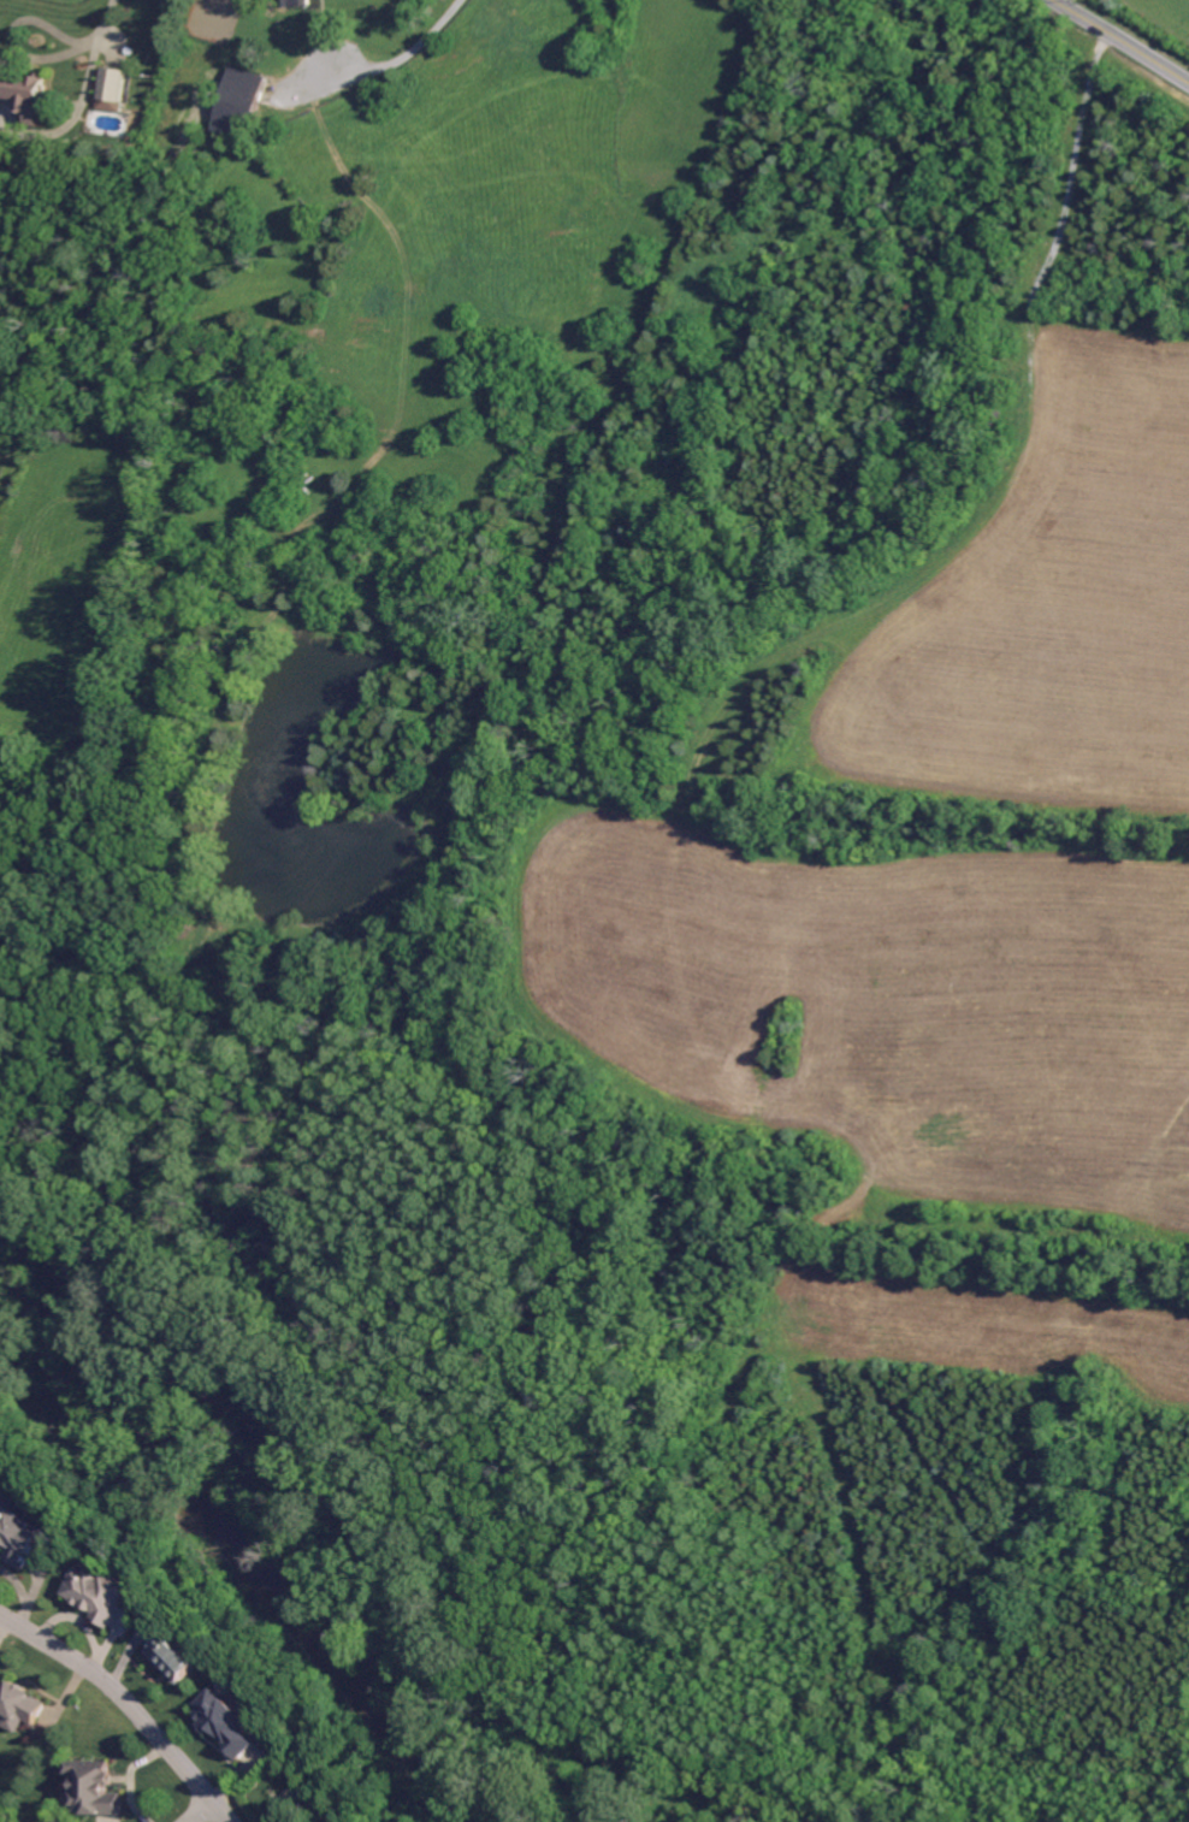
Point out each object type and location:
building: (298, 2)
road: (1120, 41)
road: (386, 63)
building: (112, 83)
building: (23, 89)
road: (85, 99)
building: (242, 102)
building: (23, 1530)
river: (231, 1574)
building: (103, 1592)
building: (182, 1656)
road: (128, 1703)
building: (19, 1705)
building: (233, 1721)
building: (91, 1788)
road: (203, 1814)

